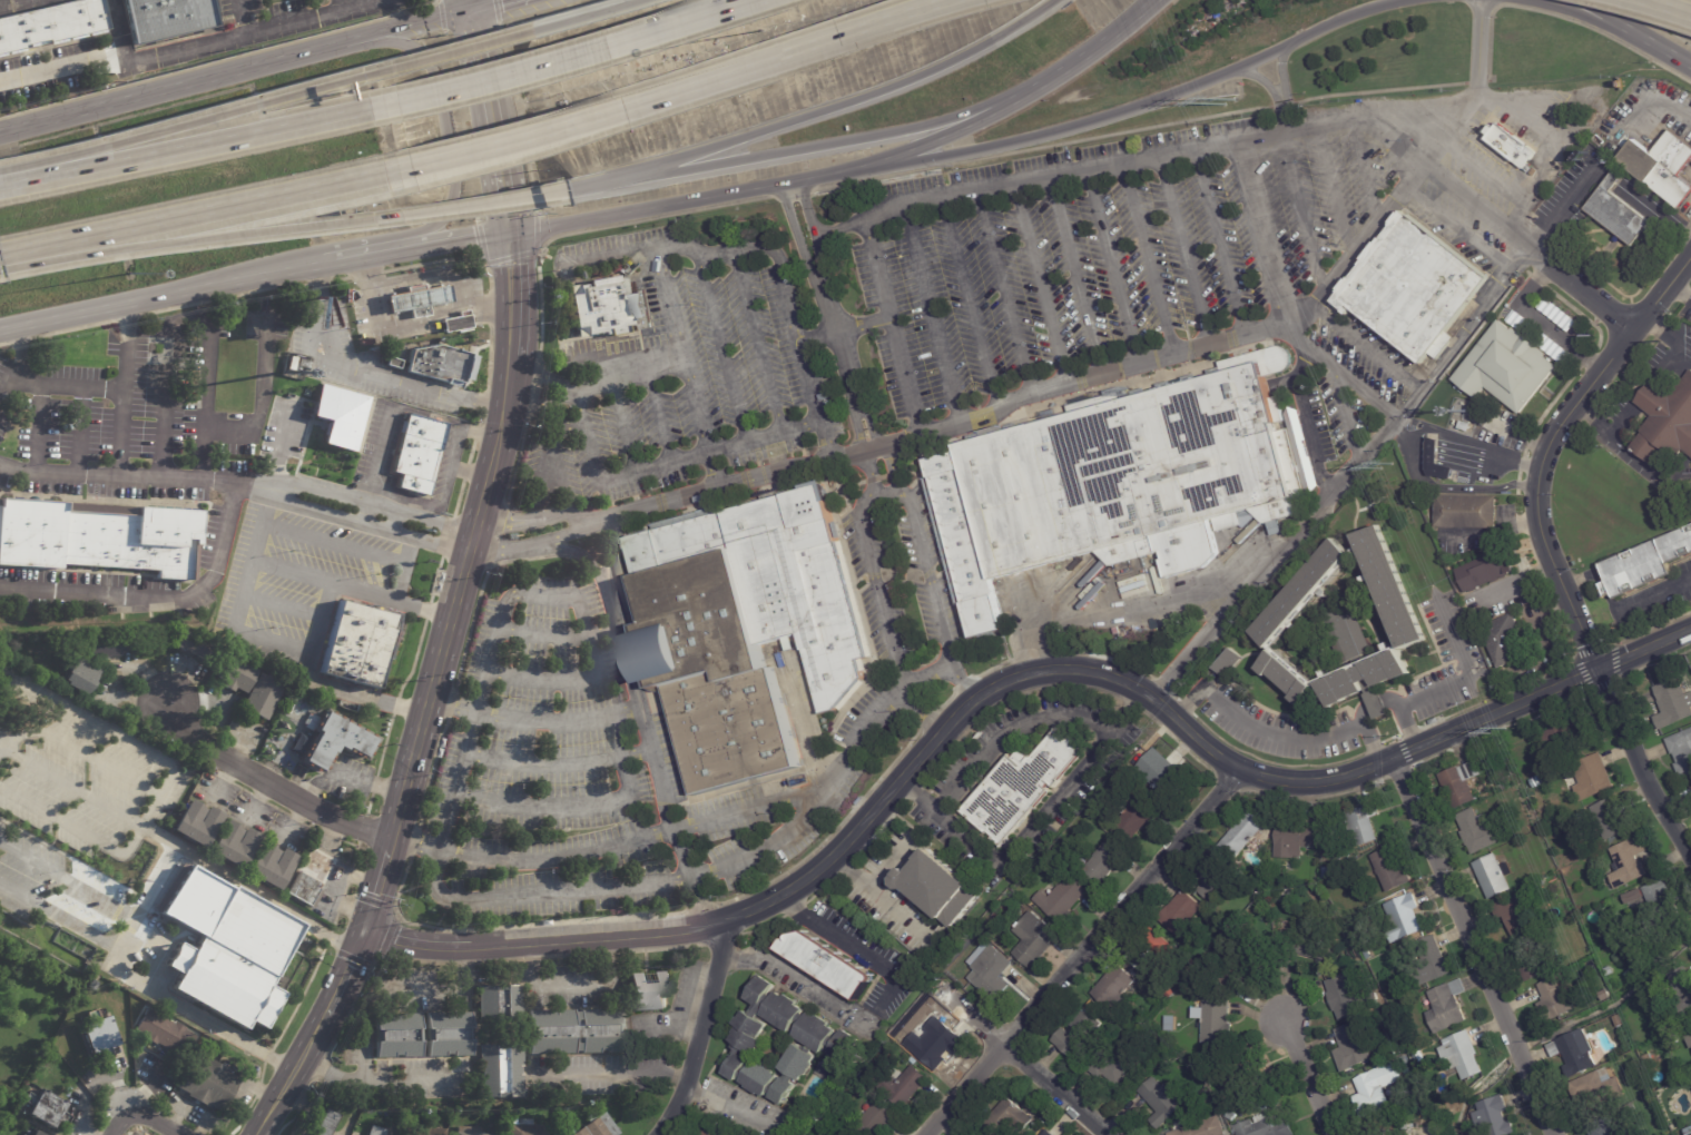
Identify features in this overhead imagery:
road: (13, 2)
road: (356, 2)
road: (465, 7)
road: (475, 7)
road: (500, 7)
road: (1660, 8)
road: (497, 12)
road: (441, 14)
traffic signals: (474, 14)
road: (574, 16)
road: (1579, 17)
road: (242, 18)
road: (1563, 19)
building: (166, 20)
road: (1609, 20)
building: (50, 26)
road: (422, 27)
road: (118, 29)
street lamp: (760, 30)
road: (191, 48)
road: (1667, 53)
road: (439, 55)
road: (1087, 55)
road: (218, 59)
road: (558, 61)
road: (1280, 69)
road: (1259, 79)
road: (189, 85)
road: (675, 92)
power tower: (1228, 97)
road: (854, 102)
road: (1147, 102)
road: (1651, 102)
road: (1418, 103)
road: (521, 119)
road: (500, 122)
road: (176, 125)
road: (470, 126)
road: (4, 130)
road: (945, 135)
road: (1216, 141)
road: (454, 145)
road: (828, 145)
building: (1511, 147)
road: (181, 148)
building: (1662, 167)
road: (1535, 169)
road: (1364, 171)
road: (599, 182)
road: (1296, 190)
road: (1331, 190)
road: (691, 200)
road: (473, 206)
road: (1563, 206)
building: (1616, 213)
road: (189, 218)
road: (835, 227)
road: (592, 228)
road: (1265, 231)
road: (1459, 231)
traffic signals: (510, 235)
road: (193, 240)
road: (1218, 243)
road: (444, 245)
road: (751, 245)
road: (1690, 250)
road: (1181, 251)
road: (509, 257)
road: (450, 258)
road: (1147, 259)
road: (348, 261)
road: (1111, 268)
street lamp: (129, 272)
road: (366, 275)
road: (436, 276)
road: (1073, 278)
road: (338, 279)
road: (319, 282)
road: (1040, 286)
building: (1413, 289)
road: (1583, 289)
road: (1678, 293)
road: (1004, 294)
road: (224, 296)
road: (511, 296)
building: (416, 297)
gas station: (416, 297)
road: (158, 299)
road: (970, 302)
building: (607, 306)
road: (491, 307)
building: (419, 310)
road: (931, 310)
road: (830, 316)
road: (126, 317)
road: (1538, 322)
building: (455, 323)
road: (840, 325)
road: (891, 327)
road: (70, 329)
road: (1267, 332)
road: (1298, 338)
road: (17, 340)
road: (756, 340)
road: (2, 343)
road: (721, 347)
road: (1364, 347)
road: (1688, 348)
building: (389, 349)
road: (206, 354)
road: (14, 355)
road: (489, 358)
road: (510, 361)
building: (394, 362)
building: (442, 363)
road: (1301, 364)
building: (1507, 367)
road: (629, 368)
road: (372, 372)
road: (535, 376)
road: (543, 376)
road: (65, 385)
road: (2, 387)
road: (1649, 389)
road: (122, 393)
road: (1364, 394)
road: (483, 402)
road: (164, 404)
building: (336, 412)
road: (657, 413)
road: (427, 415)
road: (481, 420)
building: (1667, 422)
road: (620, 424)
road: (255, 425)
building: (1466, 427)
road: (37, 428)
road: (79, 432)
road: (478, 432)
road: (480, 433)
road: (548, 440)
road: (823, 443)
road: (1467, 444)
road: (520, 445)
road: (471, 451)
road: (588, 451)
building: (1433, 452)
building: (419, 453)
road: (375, 464)
road: (893, 465)
road: (652, 467)
road: (1651, 468)
road: (871, 470)
road: (465, 471)
road: (712, 471)
road: (470, 473)
building: (1130, 476)
road: (1348, 477)
road: (135, 481)
road: (728, 486)
road: (1453, 486)
road: (869, 493)
road: (458, 497)
road: (443, 501)
building: (1467, 511)
road: (393, 513)
road: (266, 515)
road: (431, 521)
building: (96, 536)
road: (448, 536)
road: (498, 536)
road: (334, 542)
road: (429, 542)
building: (966, 542)
road: (609, 544)
road: (1544, 544)
road: (574, 552)
road: (582, 556)
building: (1491, 569)
building: (1646, 569)
road: (294, 571)
road: (1597, 578)
road: (435, 579)
road: (483, 582)
building: (1393, 590)
road: (395, 596)
building: (1306, 596)
road: (161, 598)
road: (576, 598)
road: (1653, 598)
road: (283, 606)
road: (1149, 609)
road: (426, 610)
road: (452, 611)
building: (749, 629)
road: (556, 632)
building: (1351, 632)
building: (1506, 640)
road: (273, 643)
building: (99, 644)
road: (621, 644)
building: (357, 645)
building: (190, 647)
road: (311, 658)
road: (414, 659)
building: (1229, 663)
building: (1671, 672)
road: (931, 674)
building: (233, 675)
building: (78, 677)
building: (1290, 678)
building: (1370, 683)
road: (1449, 685)
building: (259, 697)
building: (287, 702)
building: (1672, 703)
road: (395, 704)
road: (452, 704)
road: (533, 721)
power tower: (1505, 730)
road: (1278, 732)
building: (1563, 737)
building: (332, 740)
road: (384, 744)
road: (80, 751)
building: (1682, 753)
road: (557, 764)
road: (1085, 766)
road: (1241, 768)
road: (431, 772)
building: (1162, 772)
building: (1593, 778)
building: (1537, 781)
road: (164, 782)
road: (269, 783)
road: (374, 783)
building: (1461, 783)
road: (71, 786)
building: (1015, 786)
building: (1690, 787)
road: (368, 803)
road: (559, 803)
road: (750, 808)
building: (1134, 817)
road: (671, 818)
building: (1612, 819)
building: (1363, 821)
building: (196, 825)
road: (77, 829)
road: (317, 829)
road: (361, 830)
building: (1478, 831)
building: (1243, 832)
building: (1294, 839)
road: (414, 842)
building: (234, 846)
road: (533, 857)
road: (203, 860)
building: (1101, 860)
road: (892, 862)
building: (1630, 862)
building: (271, 866)
building: (1389, 868)
building: (1326, 870)
building: (309, 877)
building: (1493, 877)
road: (69, 880)
road: (800, 882)
building: (1209, 882)
building: (940, 885)
road: (616, 887)
road: (376, 894)
road: (881, 895)
building: (1061, 897)
building: (1633, 897)
building: (1656, 898)
road: (368, 899)
road: (288, 909)
building: (1518, 909)
building: (1181, 915)
building: (1404, 916)
road: (59, 918)
road: (510, 926)
road: (181, 927)
road: (685, 928)
building: (1219, 929)
traffic signals: (365, 930)
road: (389, 935)
road: (607, 935)
road: (832, 935)
road: (328, 936)
building: (1032, 937)
road: (548, 939)
building: (1305, 944)
road: (443, 945)
road: (1473, 946)
road: (1083, 951)
building: (1154, 953)
building: (1587, 953)
building: (1368, 954)
road: (348, 956)
building: (1433, 958)
building: (236, 959)
building: (828, 961)
building: (1243, 963)
building: (1535, 966)
building: (948, 968)
road: (124, 970)
building: (1610, 971)
building: (989, 973)
road: (368, 974)
road: (499, 974)
building: (1631, 974)
road: (345, 975)
road: (793, 975)
road: (543, 985)
building: (1114, 985)
building: (643, 988)
road: (399, 990)
building: (1169, 990)
building: (1683, 990)
building: (1153, 991)
building: (1605, 995)
building: (1344, 996)
road: (299, 997)
building: (1162, 1000)
building: (1555, 1001)
building: (500, 1003)
building: (1448, 1005)
building: (1216, 1019)
building: (1618, 1021)
road: (217, 1027)
building: (572, 1028)
road: (699, 1028)
building: (158, 1030)
building: (1076, 1033)
building: (99, 1035)
building: (399, 1035)
building: (450, 1035)
building: (825, 1039)
building: (1689, 1040)
road: (311, 1042)
building: (932, 1043)
building: (1354, 1044)
building: (1107, 1046)
building: (1567, 1050)
building: (1380, 1053)
building: (1462, 1054)
road: (266, 1055)
building: (1404, 1059)
building: (1648, 1059)
building: (1112, 1065)
road: (323, 1069)
building: (501, 1070)
road: (617, 1070)
road: (1300, 1077)
building: (203, 1080)
road: (367, 1082)
building: (898, 1082)
road: (144, 1086)
building: (1375, 1087)
building: (1590, 1089)
road: (1052, 1092)
road: (277, 1099)
road: (252, 1101)
building: (1160, 1102)
building: (1226, 1103)
building: (45, 1106)
road: (301, 1106)
road: (729, 1106)
building: (1397, 1107)
road: (139, 1112)
building: (1231, 1115)
building: (1494, 1116)
building: (875, 1118)
building: (1005, 1118)
building: (327, 1123)
building: (1266, 1125)
building: (596, 1126)
building: (525, 1127)
building: (1201, 1127)
building: (1602, 1128)
building: (375, 1131)
building: (425, 1131)
building: (471, 1131)
building: (1046, 1132)
building: (1689, 1132)
building: (33, 1133)
building: (706, 1133)
building: (1384, 1133)
building: (305, 1134)
building: (833, 1134)

